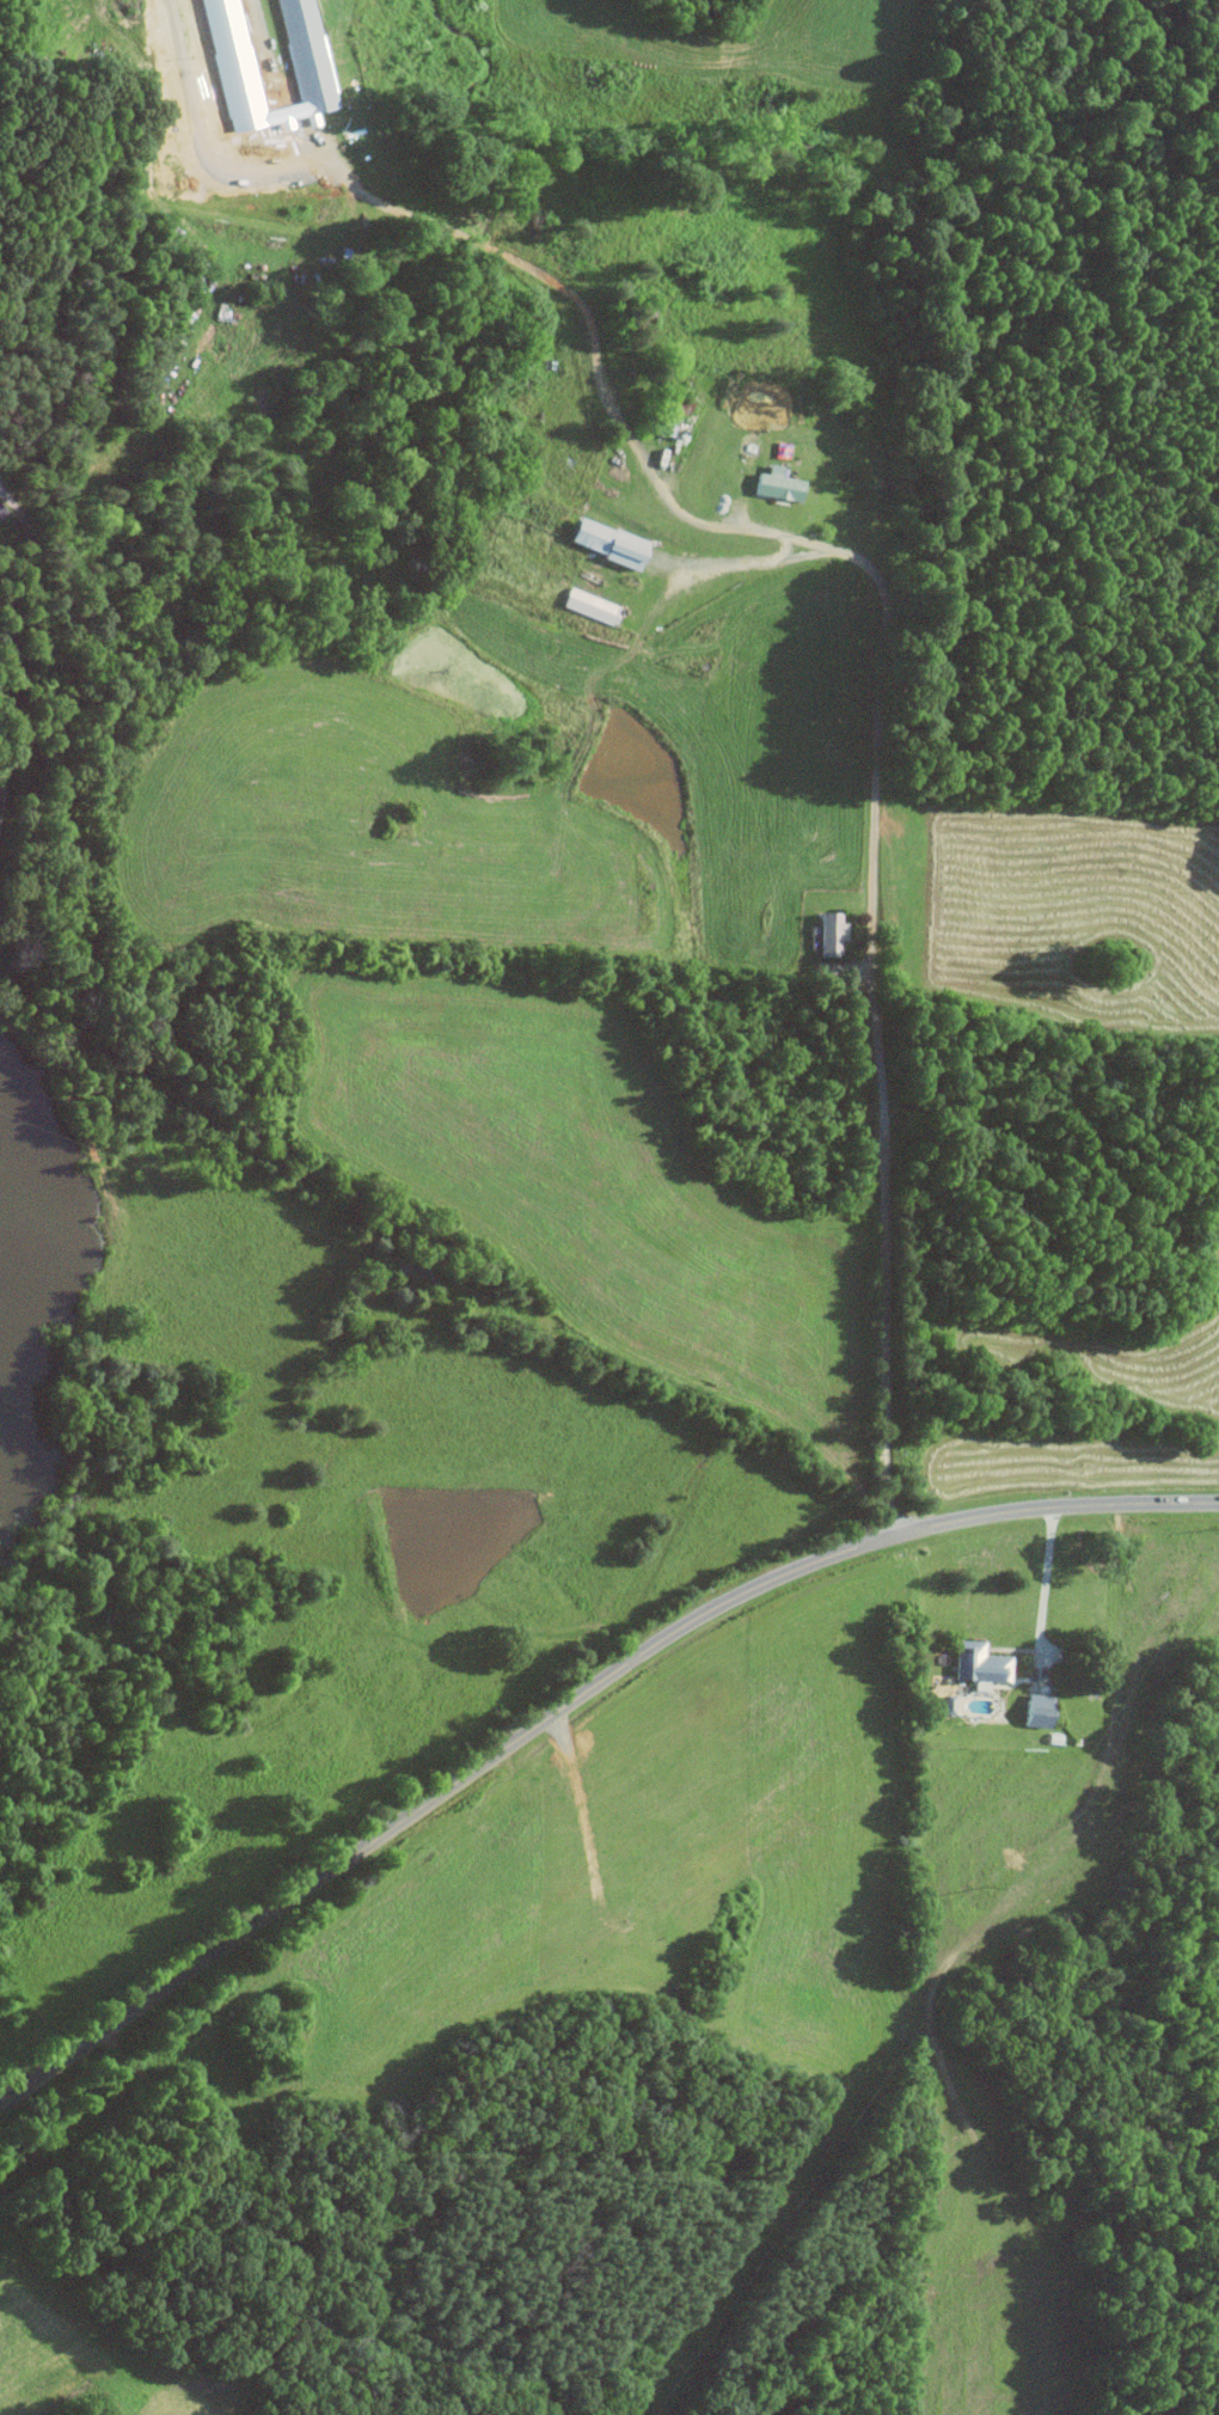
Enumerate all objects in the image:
building: (301, 55)
building: (777, 485)
building: (0, 512)
building: (604, 542)
road: (735, 558)
road: (889, 585)
road: (18, 658)
building: (828, 931)
road: (1043, 1592)
building: (978, 1662)
road: (571, 1706)
building: (1035, 1708)

